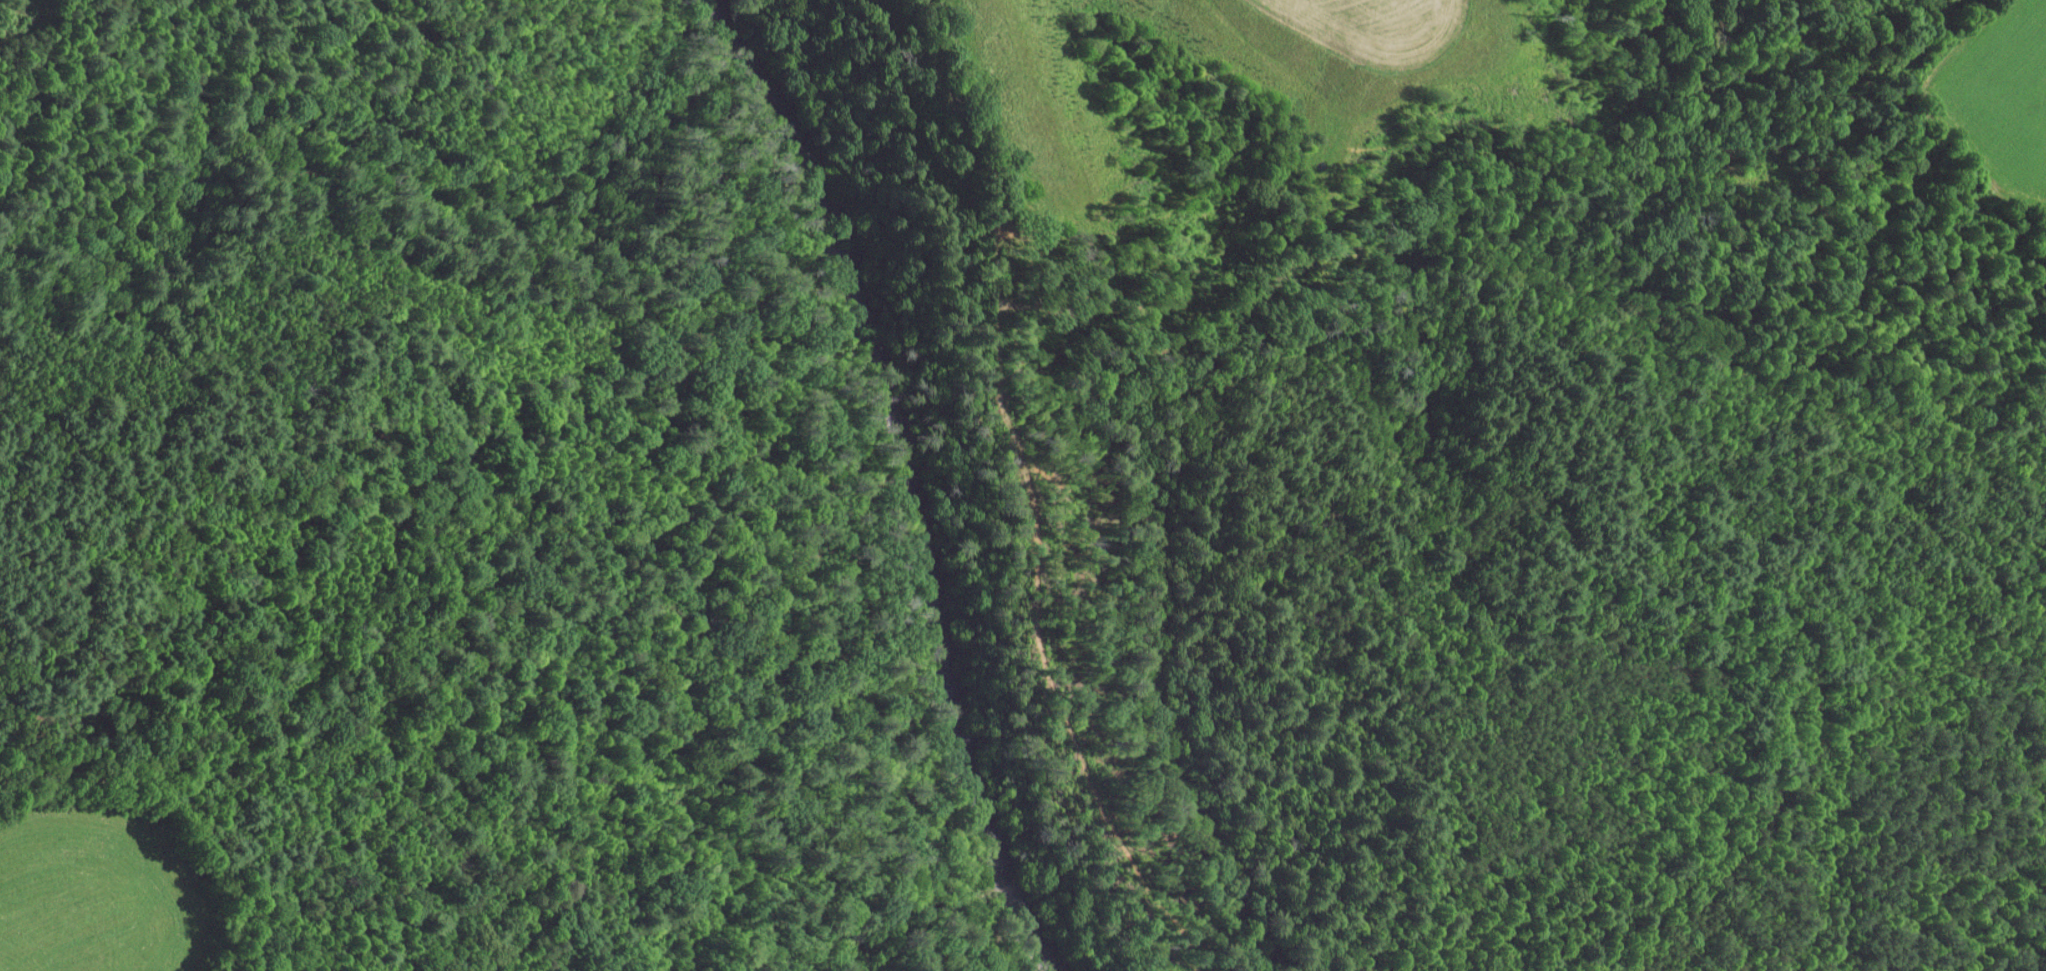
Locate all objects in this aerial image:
river: (925, 470)

